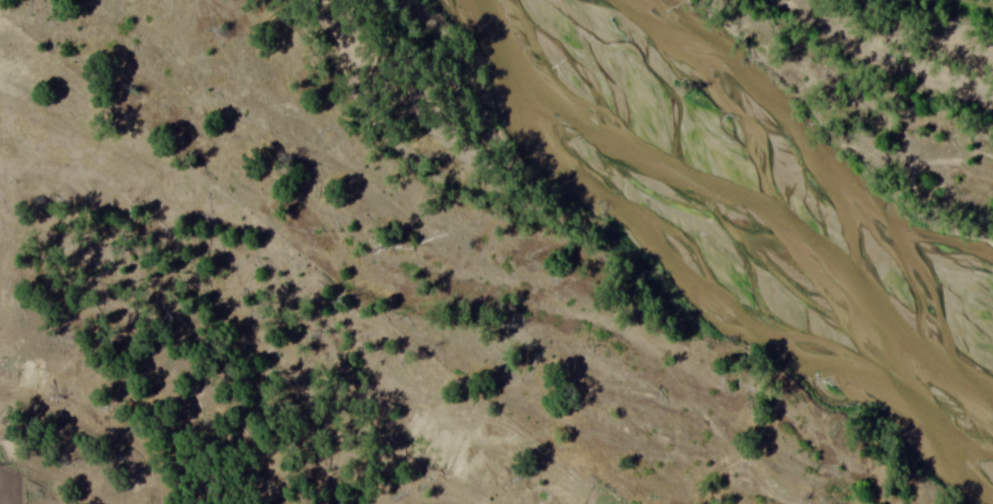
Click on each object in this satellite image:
river: (785, 153)

